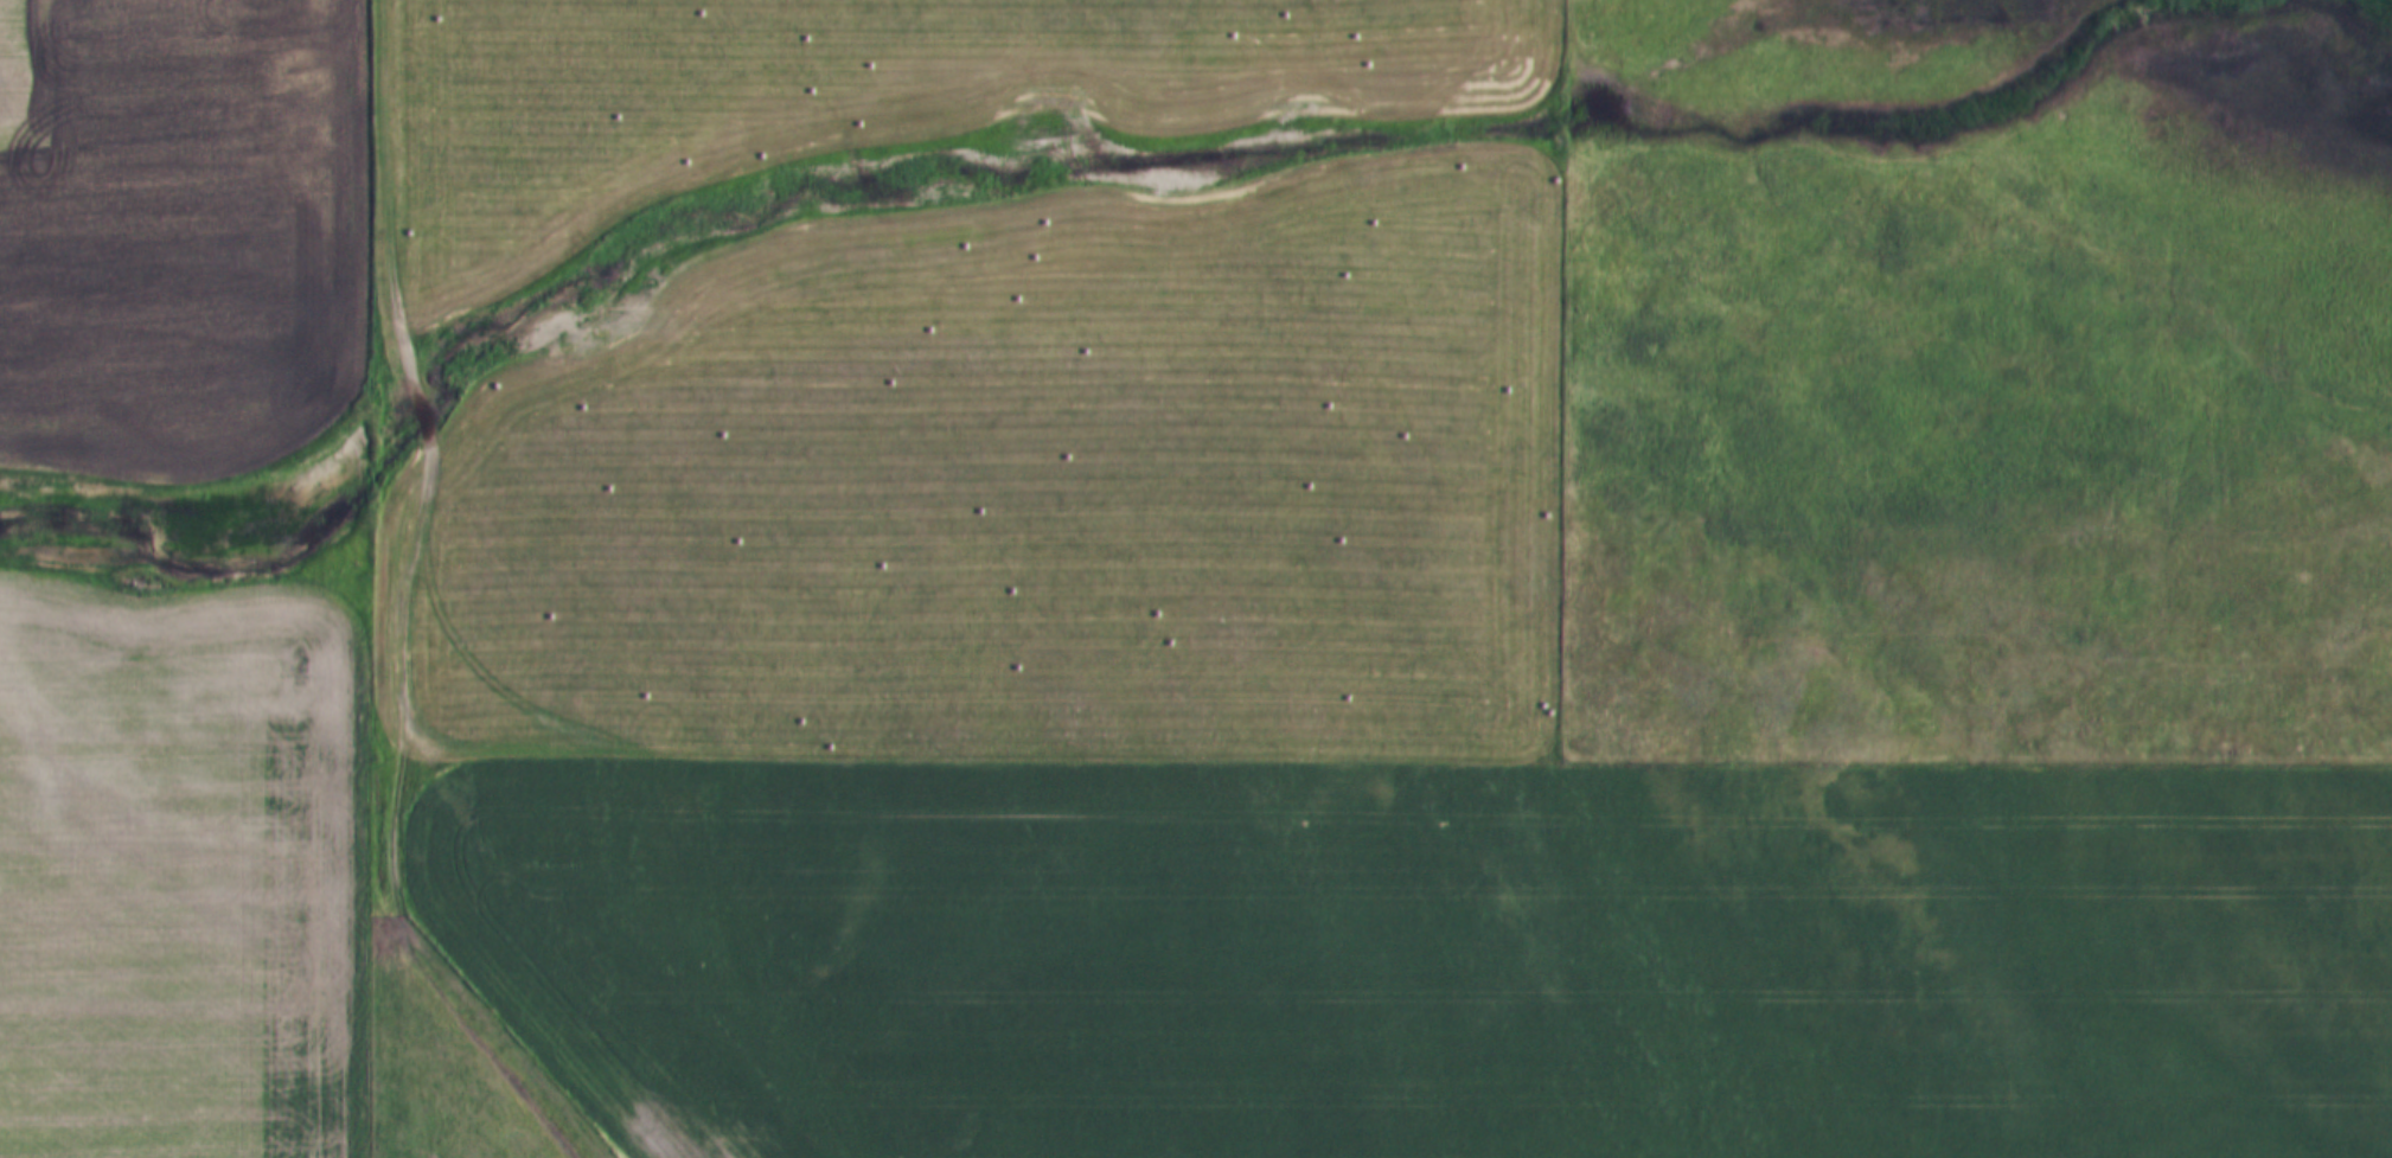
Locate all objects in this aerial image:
road: (382, 232)

